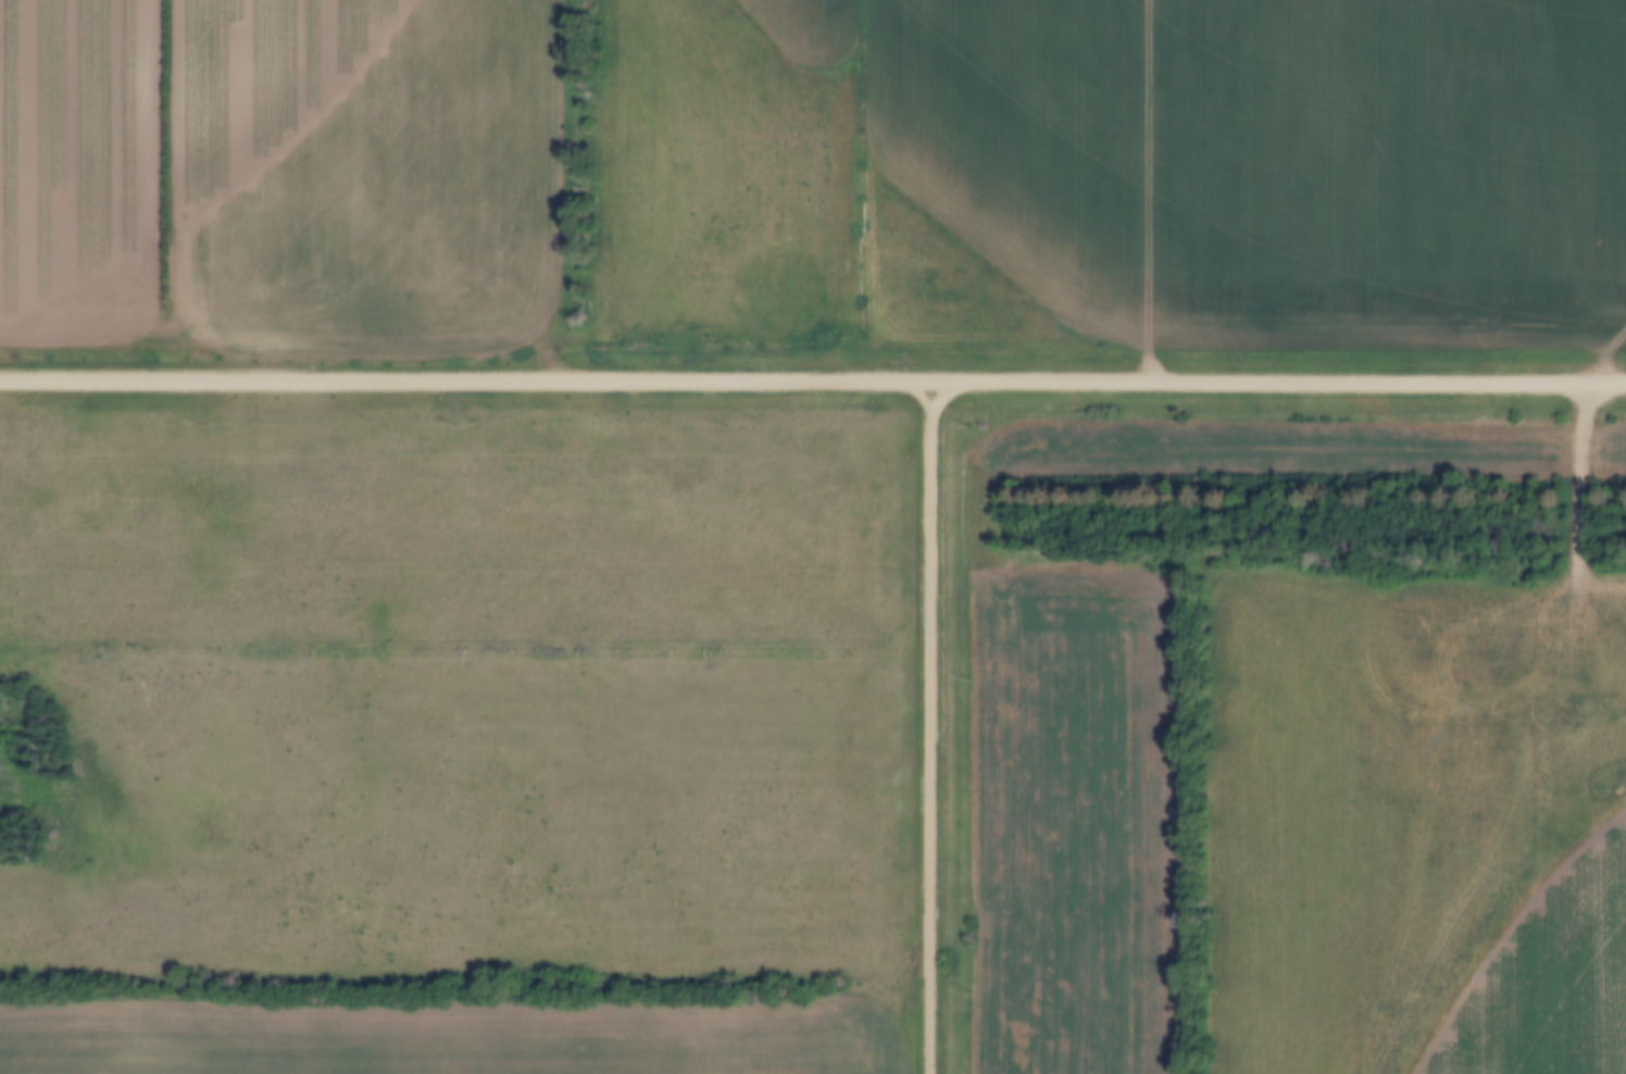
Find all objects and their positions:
road: (1145, 191)
building: (864, 291)
road: (1604, 350)
road: (812, 382)
road: (1575, 497)
road: (926, 727)

